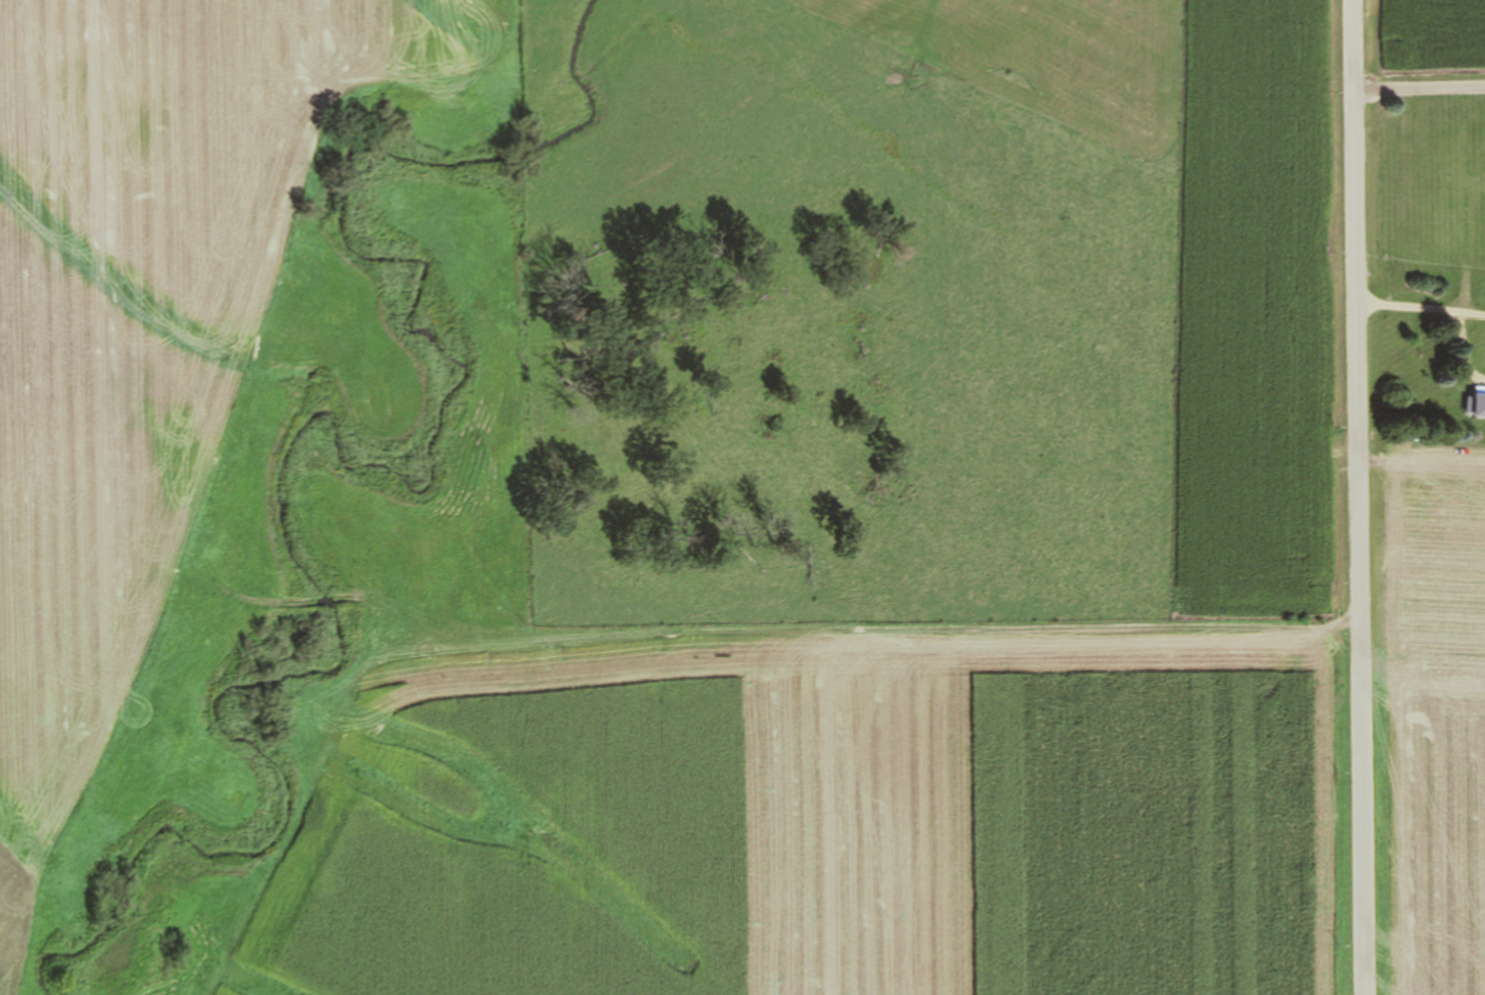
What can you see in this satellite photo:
road: (1418, 86)
building: (1480, 193)
road: (1405, 305)
road: (1469, 313)
road: (1463, 350)
building: (1480, 404)
road: (1358, 497)

